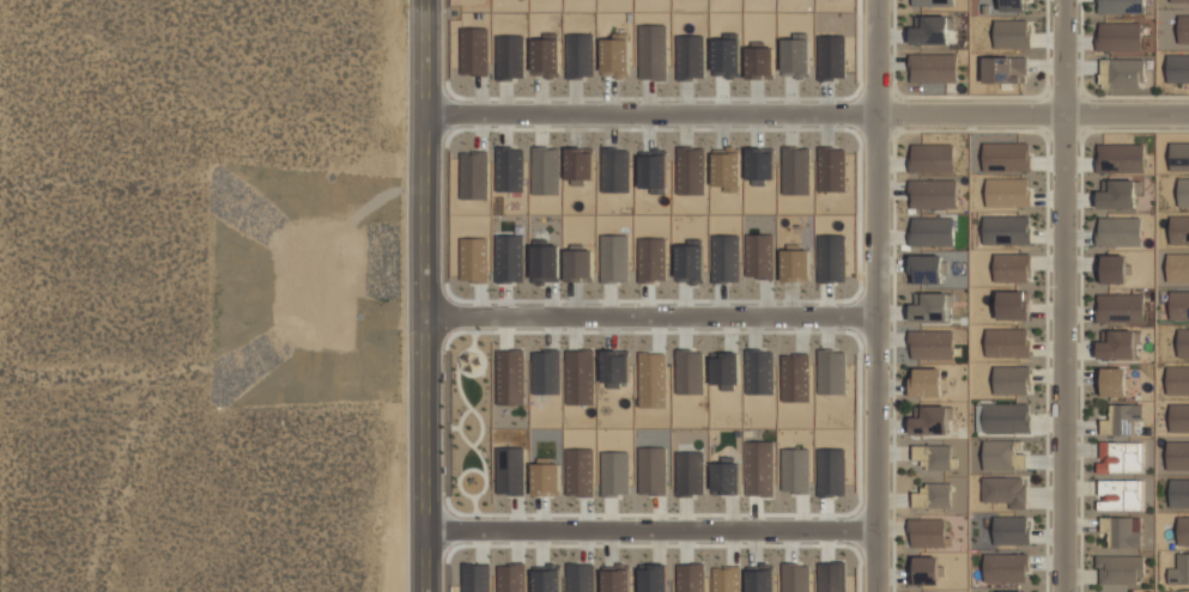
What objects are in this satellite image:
building: (1179, 0)
building: (930, 2)
building: (1013, 6)
building: (1120, 6)
building: (1183, 30)
building: (930, 31)
building: (1012, 33)
building: (1118, 36)
building: (471, 53)
building: (541, 53)
building: (650, 53)
building: (722, 54)
building: (793, 55)
building: (612, 56)
building: (577, 57)
building: (687, 57)
building: (508, 59)
building: (829, 59)
building: (757, 63)
building: (933, 68)
building: (1177, 68)
building: (1005, 69)
building: (1122, 73)
road: (813, 111)
building: (1005, 157)
building: (1179, 157)
building: (932, 158)
building: (1121, 158)
building: (757, 163)
building: (577, 164)
building: (506, 170)
building: (613, 170)
building: (829, 170)
building: (544, 171)
building: (650, 171)
building: (687, 171)
building: (724, 171)
building: (794, 172)
building: (472, 176)
building: (1006, 193)
building: (1183, 193)
building: (934, 194)
building: (1117, 195)
building: (1178, 230)
building: (932, 231)
building: (1006, 231)
building: (1118, 231)
building: (757, 257)
building: (613, 258)
building: (830, 258)
building: (472, 260)
building: (508, 260)
building: (723, 260)
building: (650, 261)
building: (542, 262)
building: (687, 262)
building: (576, 264)
building: (793, 266)
building: (1177, 267)
building: (1012, 268)
building: (927, 269)
building: (1114, 269)
road: (436, 295)
road: (884, 295)
road: (1068, 295)
building: (1013, 305)
building: (1179, 305)
building: (929, 307)
building: (1120, 309)
road: (660, 319)
building: (1007, 342)
building: (1183, 342)
building: (930, 344)
building: (1117, 346)
building: (612, 366)
building: (724, 370)
building: (544, 372)
building: (687, 372)
building: (757, 373)
building: (830, 373)
building: (508, 377)
building: (577, 378)
building: (794, 379)
building: (651, 380)
building: (1012, 380)
building: (1177, 380)
building: (1114, 382)
building: (927, 383)
road: (0, 407)
building: (1005, 417)
building: (1178, 419)
building: (1122, 420)
building: (930, 421)
building: (935, 456)
building: (1005, 456)
building: (1177, 456)
building: (1121, 458)
building: (758, 469)
building: (794, 471)
building: (508, 472)
building: (577, 472)
building: (650, 472)
building: (613, 474)
building: (688, 474)
building: (831, 474)
building: (723, 476)
building: (544, 480)
building: (1005, 492)
building: (1178, 493)
building: (1121, 495)
building: (934, 496)
building: (1012, 530)
building: (1183, 531)
building: (1122, 532)
building: (927, 533)
road: (659, 536)
building: (1005, 567)
building: (926, 570)
building: (1121, 570)
building: (1179, 570)
building: (577, 578)
building: (650, 578)
building: (831, 578)
building: (472, 579)
building: (508, 579)
building: (688, 579)
building: (793, 579)
building: (544, 580)
building: (758, 580)
building: (613, 581)
building: (724, 581)
building: (1012, 591)

